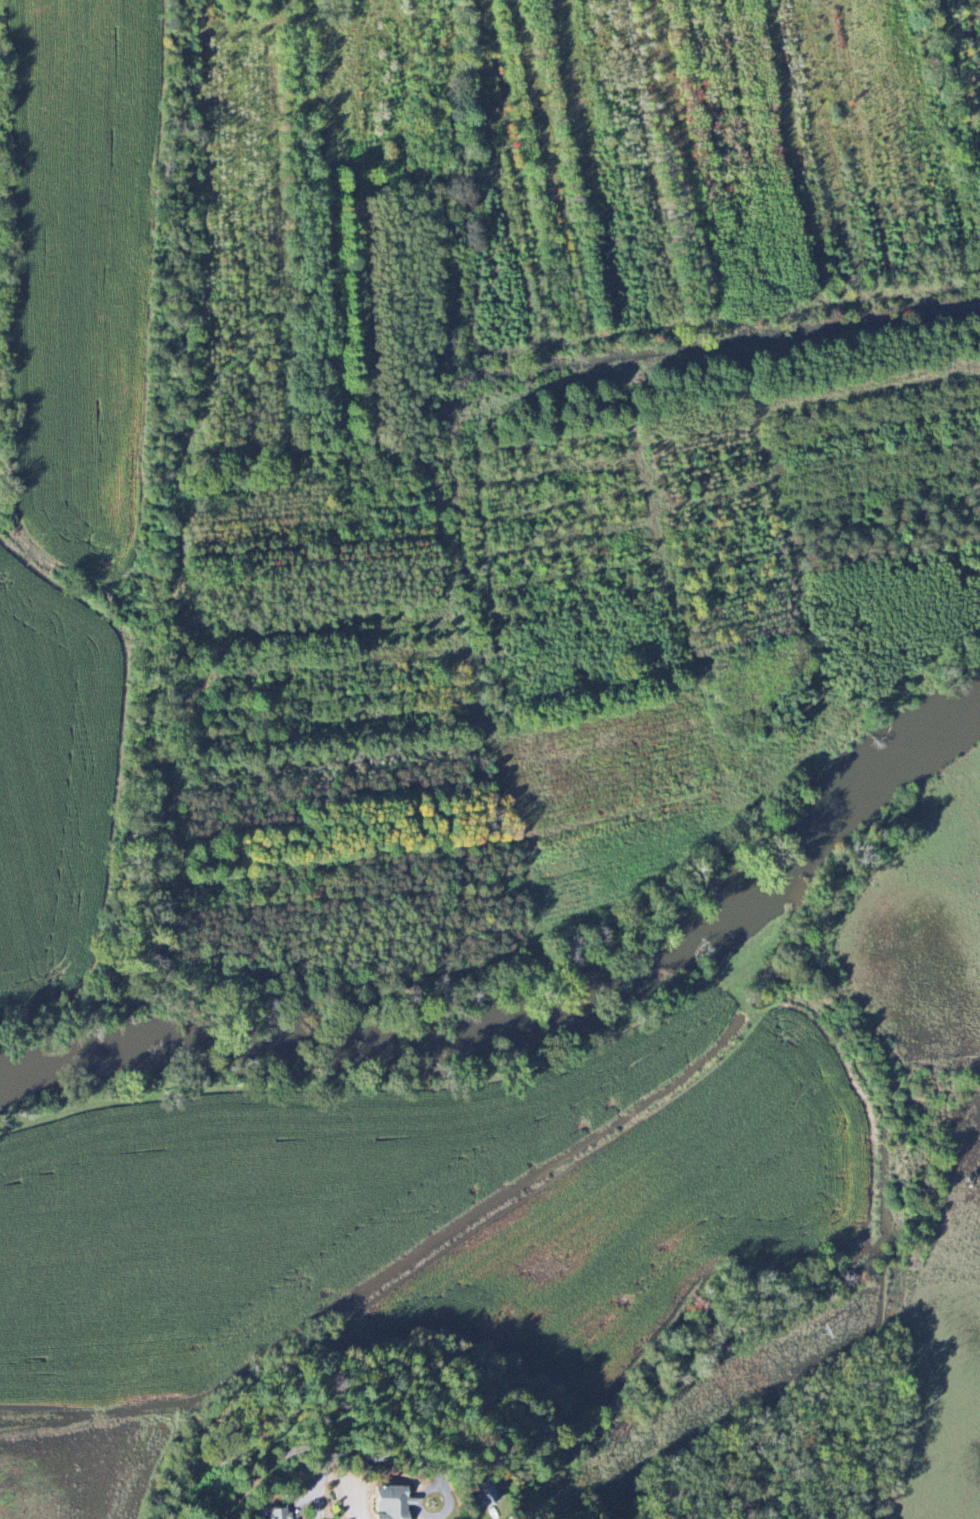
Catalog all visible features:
river: (608, 999)
river: (66, 1064)
road: (267, 1466)
road: (434, 1469)
road: (310, 1487)
building: (394, 1503)
building: (278, 1513)

